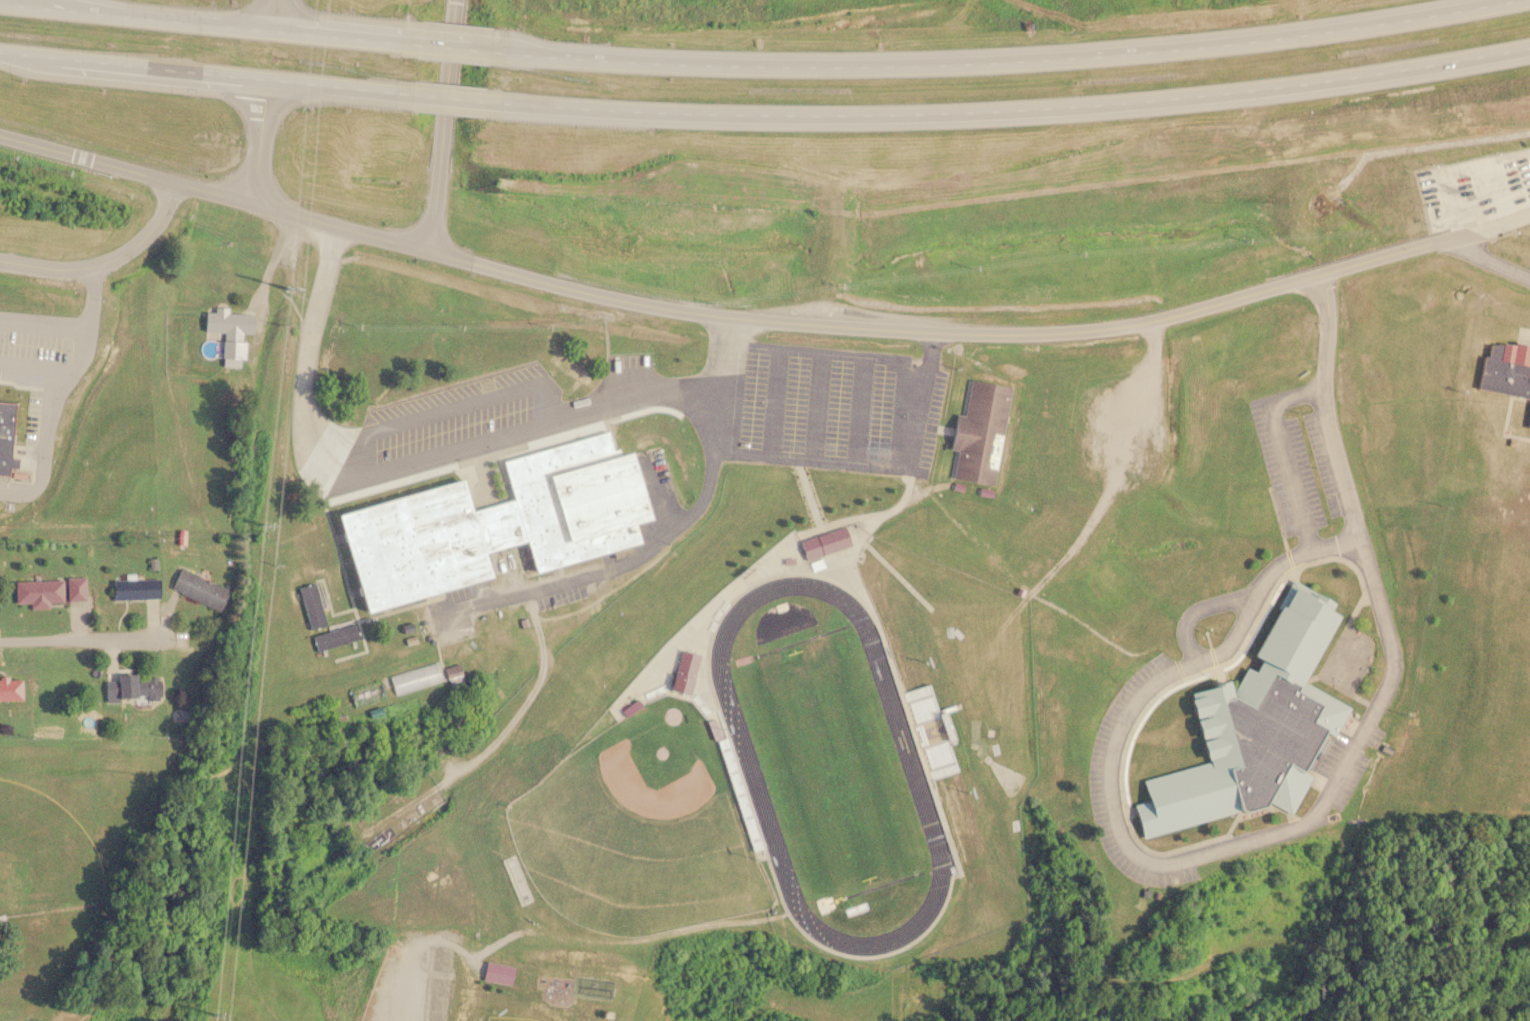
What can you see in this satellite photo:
road: (279, 13)
road: (215, 20)
road: (470, 47)
road: (1026, 60)
road: (211, 80)
road: (464, 98)
road: (1019, 110)
road: (443, 126)
road: (258, 144)
road: (215, 193)
road: (103, 257)
road: (42, 320)
building: (228, 323)
power tower: (276, 323)
road: (985, 330)
building: (231, 353)
building: (1506, 369)
road: (31, 371)
road: (56, 388)
parking lot: (822, 410)
parking lot: (457, 422)
building: (1529, 422)
building: (978, 431)
road: (405, 460)
building: (493, 522)
road: (667, 540)
building: (824, 541)
building: (134, 587)
building: (197, 587)
building: (48, 590)
building: (311, 605)
building: (335, 636)
road: (82, 638)
building: (682, 660)
building: (452, 670)
building: (414, 678)
building: (131, 686)
building: (10, 688)
building: (366, 693)
building: (1253, 726)
park: (829, 761)
track: (748, 763)
park: (635, 830)
park: (42, 852)
building: (496, 972)
power tower: (215, 1017)
park: (508, 1018)

